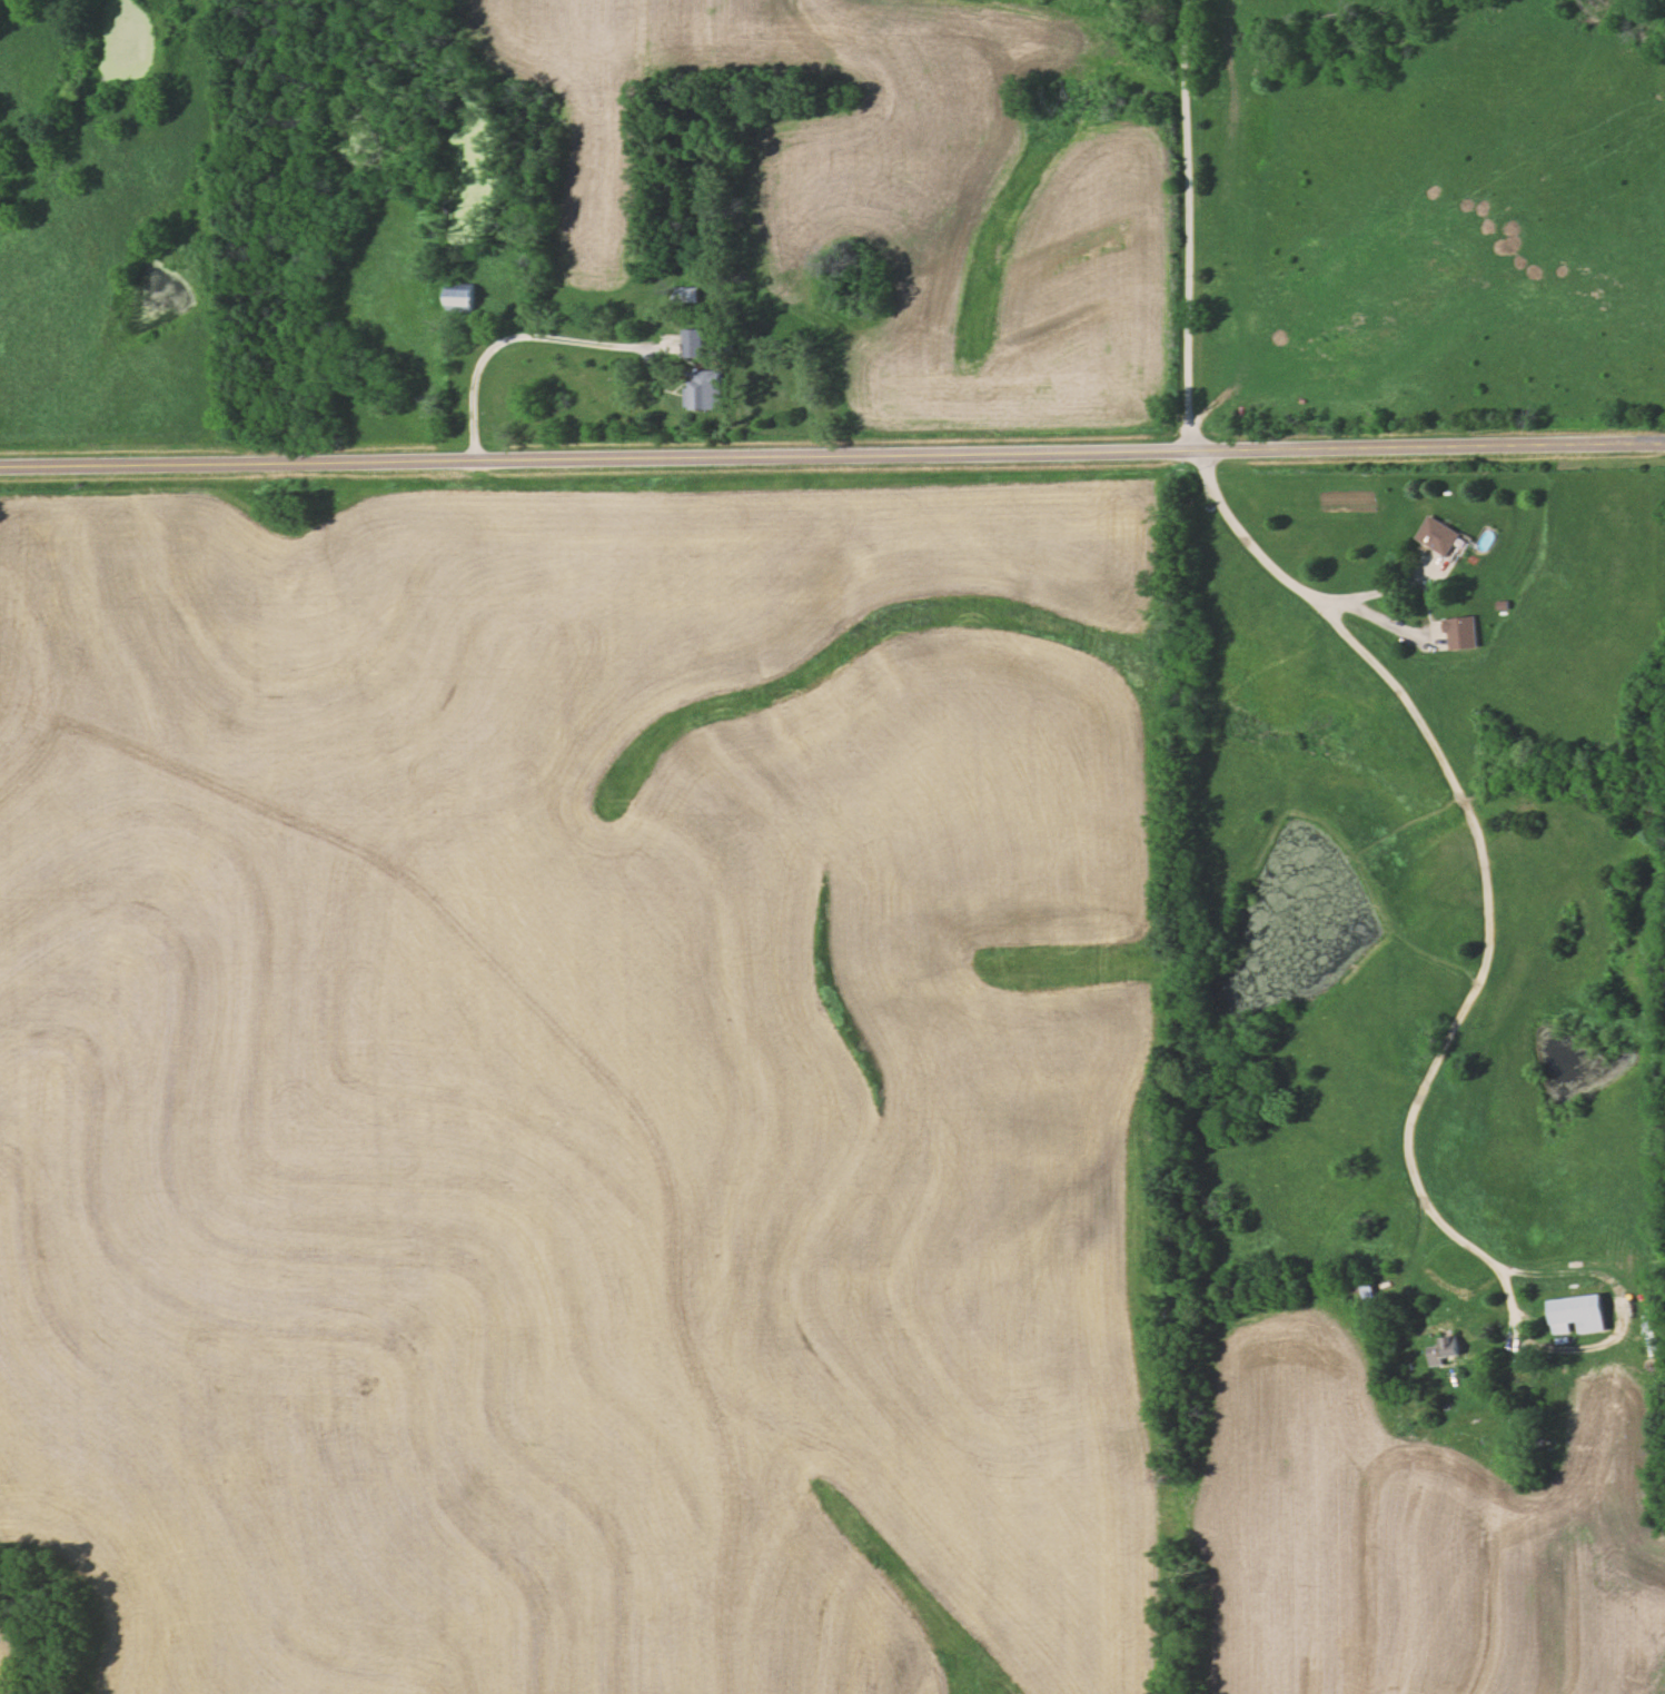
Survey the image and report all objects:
road: (1189, 224)
building: (684, 296)
building: (462, 298)
road: (527, 338)
building: (692, 345)
building: (704, 392)
road: (832, 452)
building: (1439, 536)
road: (1380, 588)
building: (1461, 634)
road: (1484, 841)
building: (1362, 1295)
building: (1578, 1315)
road: (1512, 1324)
building: (1444, 1350)

